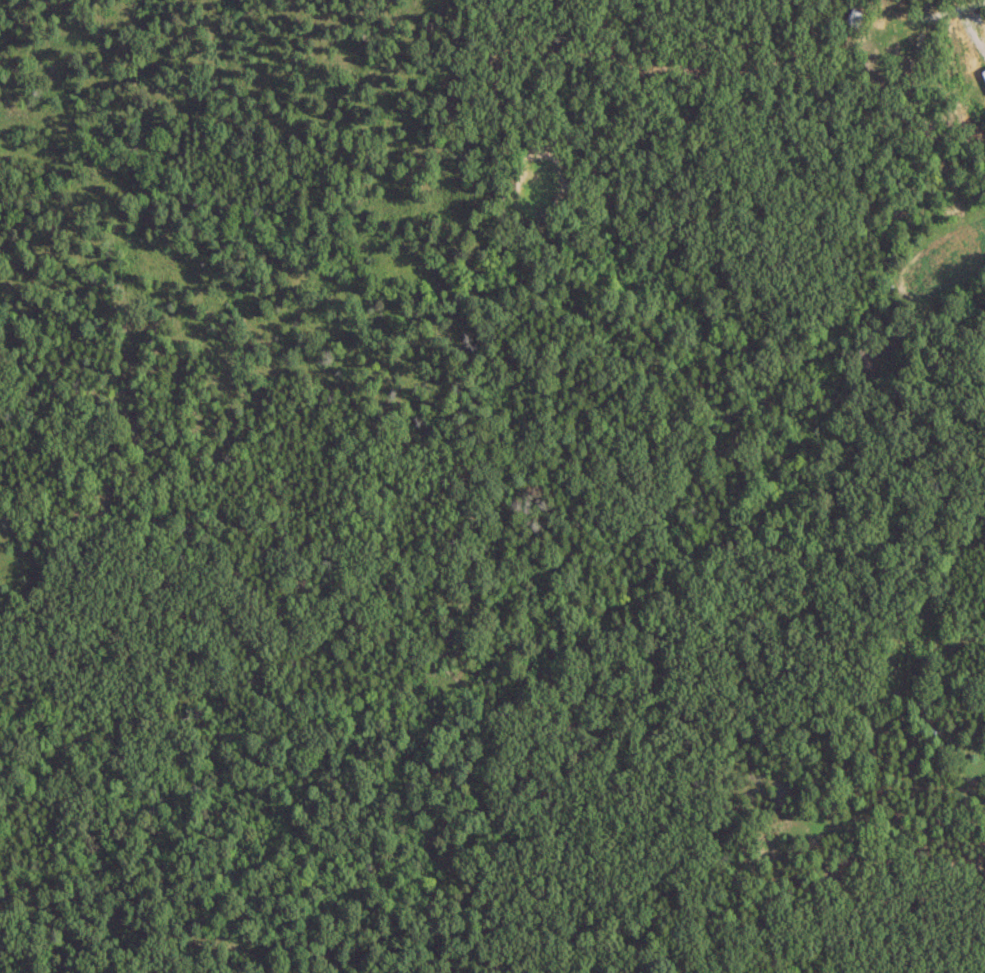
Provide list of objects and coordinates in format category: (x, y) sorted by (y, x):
building: (887, 5)
building: (852, 15)

